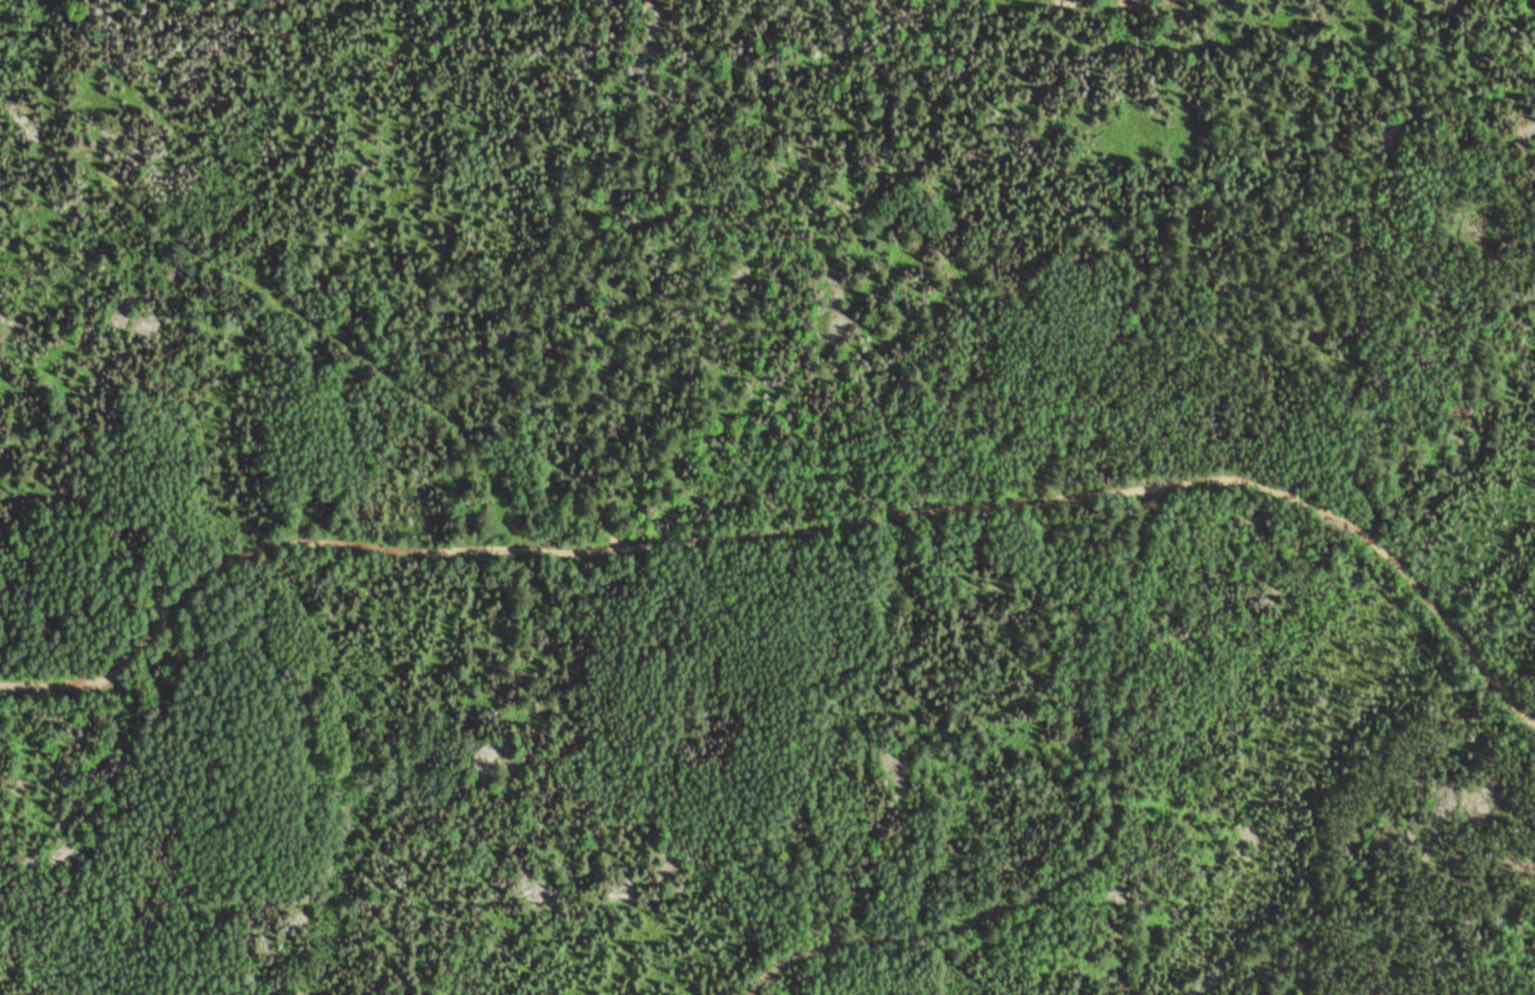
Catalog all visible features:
road: (794, 510)
road: (1104, 854)

